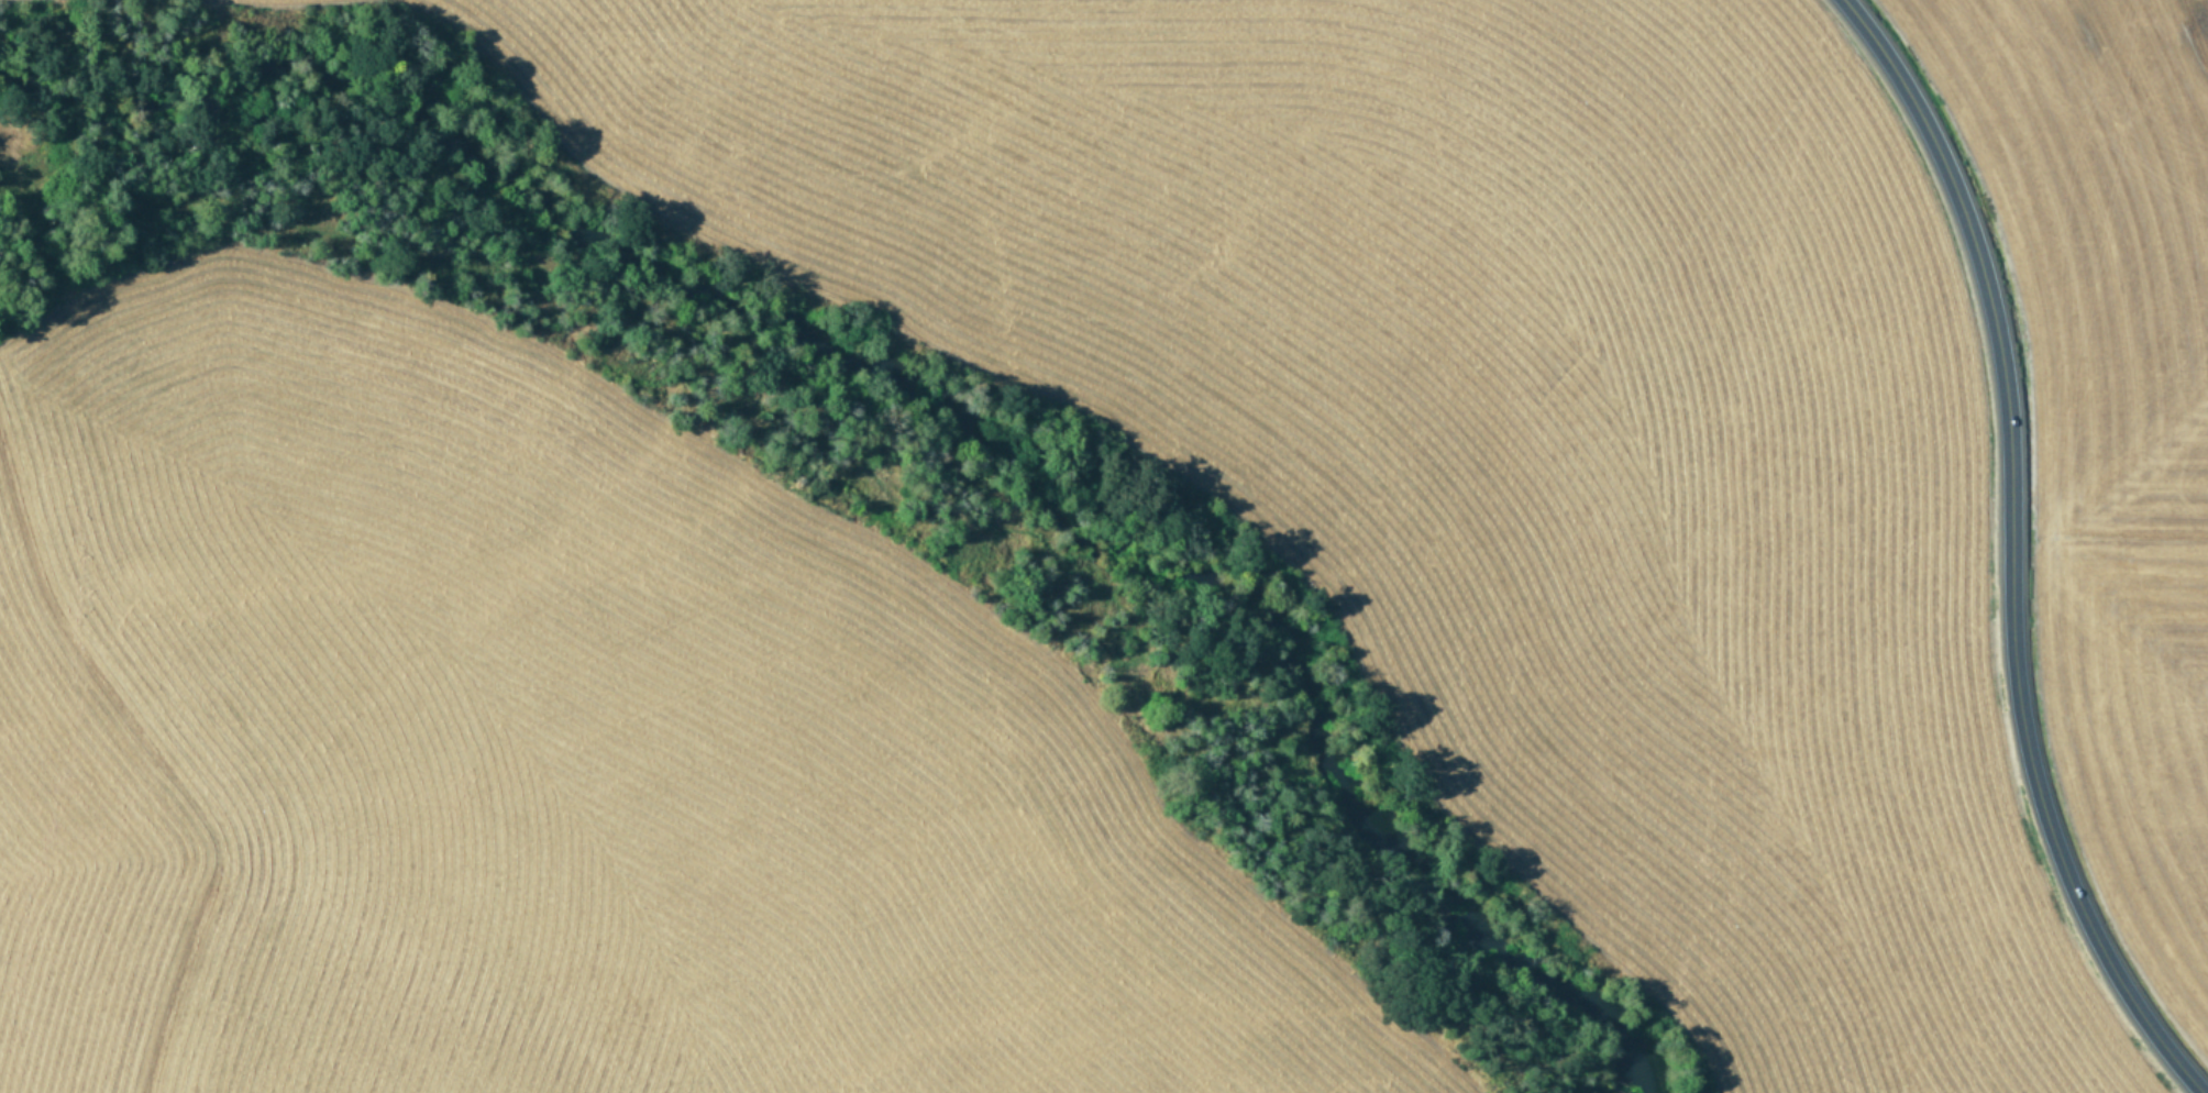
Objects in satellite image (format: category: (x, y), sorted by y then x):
crop: (1612, 430)
road: (2005, 551)

